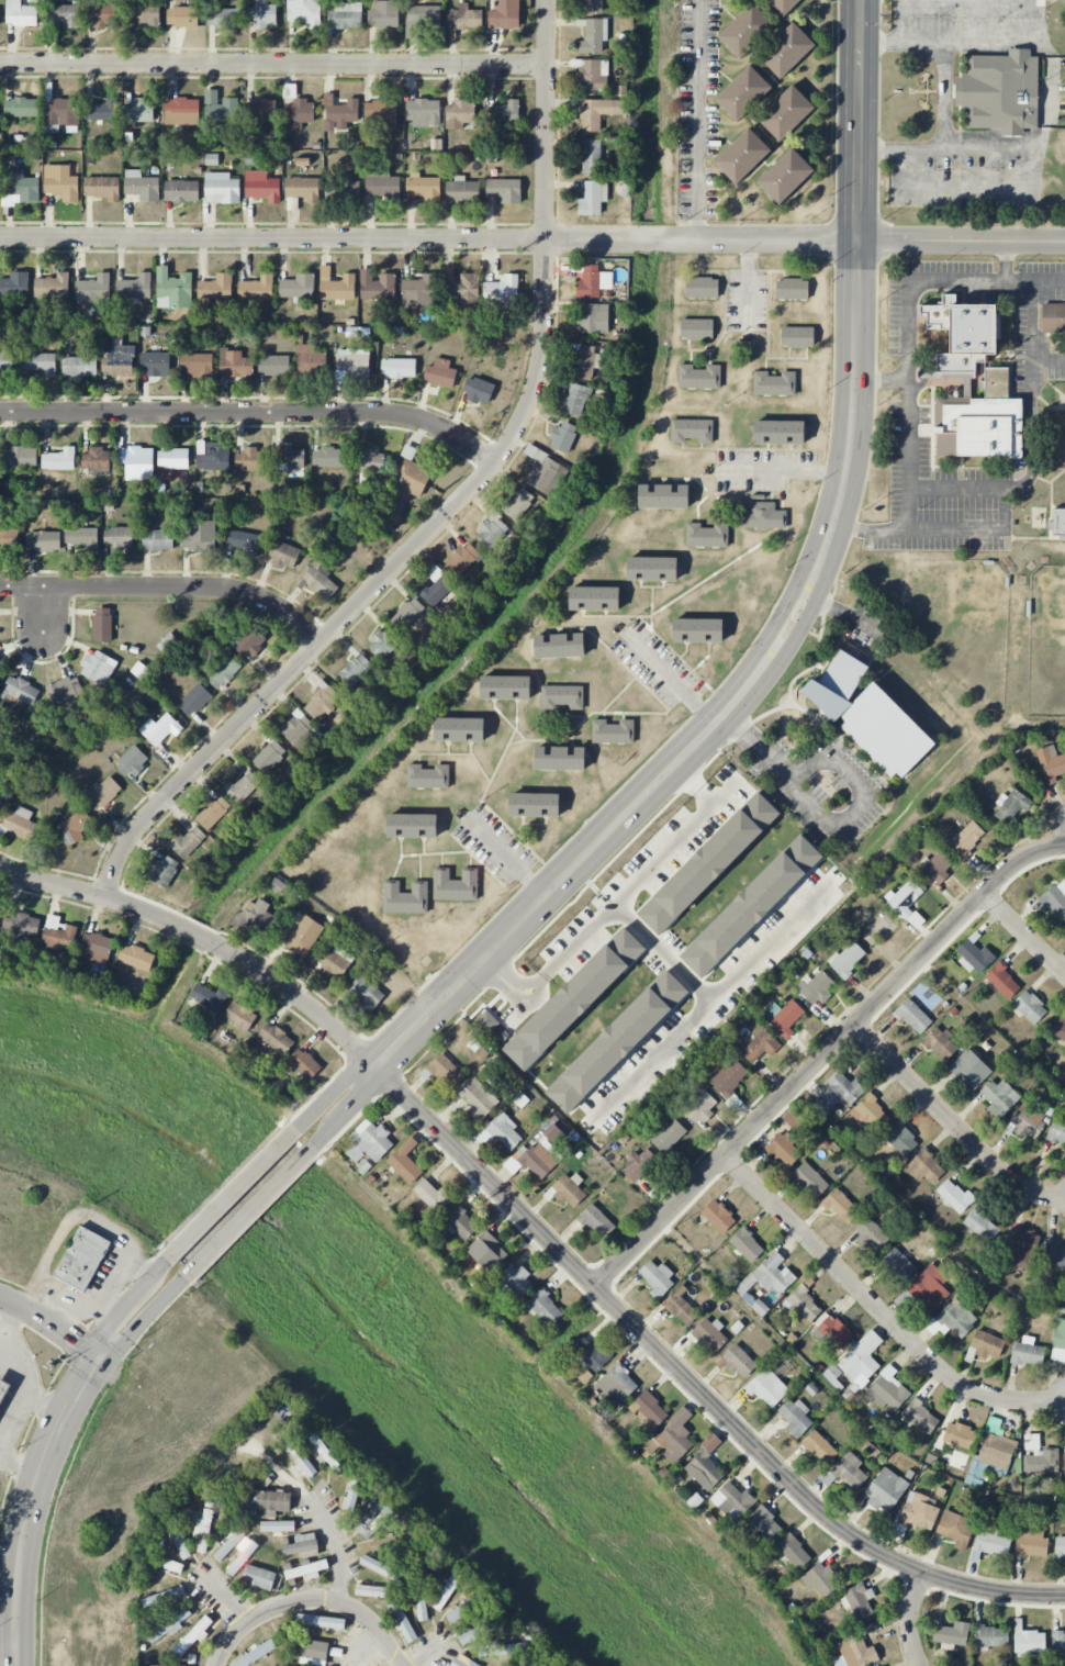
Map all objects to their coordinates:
building: (592, 5)
building: (783, 5)
building: (304, 12)
building: (21, 14)
building: (64, 14)
building: (143, 14)
building: (262, 14)
building: (383, 14)
building: (504, 14)
building: (102, 15)
building: (346, 15)
building: (182, 16)
building: (223, 18)
building: (463, 19)
building: (422, 20)
building: (746, 31)
building: (594, 36)
building: (787, 51)
road: (272, 64)
building: (1000, 91)
building: (743, 92)
road: (942, 102)
building: (220, 107)
building: (21, 108)
building: (261, 109)
building: (102, 110)
building: (139, 111)
building: (181, 111)
building: (300, 112)
building: (423, 112)
building: (504, 112)
building: (786, 112)
building: (60, 113)
building: (339, 113)
building: (380, 113)
building: (597, 113)
building: (460, 114)
road: (699, 120)
building: (742, 155)
building: (591, 157)
building: (785, 175)
building: (60, 182)
building: (381, 183)
building: (142, 186)
building: (261, 186)
building: (422, 187)
building: (19, 188)
building: (102, 188)
building: (347, 188)
building: (222, 189)
building: (303, 189)
building: (504, 190)
building: (181, 191)
building: (461, 191)
building: (593, 199)
road: (531, 239)
road: (1006, 261)
road: (923, 280)
building: (593, 282)
building: (14, 286)
building: (377, 286)
building: (53, 287)
building: (216, 287)
building: (298, 287)
building: (702, 287)
building: (134, 288)
building: (338, 288)
building: (792, 288)
building: (173, 289)
building: (257, 289)
building: (417, 292)
building: (466, 292)
building: (93, 293)
building: (501, 294)
building: (1053, 317)
building: (594, 318)
building: (697, 328)
building: (963, 333)
building: (798, 336)
building: (310, 359)
building: (119, 360)
building: (586, 361)
road: (1047, 361)
building: (5, 362)
building: (354, 362)
building: (41, 364)
building: (156, 364)
building: (235, 364)
building: (197, 365)
building: (273, 365)
building: (79, 366)
building: (397, 368)
building: (440, 373)
building: (699, 376)
building: (775, 382)
building: (478, 390)
building: (575, 400)
road: (254, 413)
building: (980, 422)
building: (692, 431)
building: (780, 432)
building: (563, 436)
building: (20, 456)
building: (213, 456)
building: (173, 457)
building: (329, 457)
building: (59, 459)
building: (97, 460)
building: (249, 460)
building: (372, 461)
building: (137, 463)
road: (784, 470)
building: (545, 472)
building: (411, 477)
road: (959, 490)
building: (663, 496)
building: (518, 503)
road: (457, 505)
building: (763, 514)
road: (1002, 529)
building: (492, 532)
building: (200, 533)
road: (872, 533)
building: (707, 535)
building: (81, 536)
building: (119, 537)
building: (8, 538)
building: (158, 539)
building: (43, 540)
building: (245, 543)
building: (282, 555)
building: (462, 560)
building: (651, 569)
building: (318, 582)
building: (436, 585)
road: (168, 588)
building: (594, 597)
park: (988, 611)
road: (799, 612)
building: (407, 614)
building: (102, 625)
building: (697, 630)
building: (248, 642)
building: (382, 645)
building: (559, 646)
building: (97, 668)
building: (355, 670)
building: (1, 672)
building: (224, 672)
road: (672, 680)
building: (505, 687)
building: (66, 690)
building: (20, 692)
building: (562, 696)
building: (194, 700)
building: (321, 702)
building: (868, 716)
building: (160, 729)
building: (300, 729)
building: (459, 729)
building: (613, 731)
building: (269, 757)
building: (559, 757)
building: (133, 761)
building: (1051, 763)
building: (427, 776)
building: (242, 787)
building: (0, 790)
building: (103, 793)
building: (1, 804)
building: (534, 804)
building: (1011, 808)
building: (213, 812)
road: (825, 817)
building: (20, 823)
building: (412, 825)
building: (75, 827)
building: (967, 838)
building: (187, 842)
road: (505, 858)
building: (708, 864)
building: (165, 870)
building: (935, 870)
road: (635, 883)
building: (455, 884)
road: (53, 885)
building: (405, 897)
building: (905, 897)
building: (1056, 899)
building: (751, 906)
building: (258, 916)
building: (22, 926)
road: (1022, 932)
building: (58, 933)
building: (302, 936)
building: (97, 948)
building: (136, 957)
building: (848, 959)
building: (333, 963)
road: (253, 966)
road: (487, 966)
road: (726, 979)
building: (1002, 981)
road: (511, 982)
building: (816, 987)
road: (504, 988)
building: (366, 992)
building: (209, 997)
building: (575, 999)
road: (516, 1005)
building: (1030, 1007)
building: (239, 1016)
building: (913, 1016)
building: (487, 1021)
building: (1058, 1031)
building: (276, 1038)
building: (617, 1040)
building: (940, 1044)
building: (760, 1047)
road: (658, 1048)
road: (823, 1055)
building: (304, 1063)
building: (969, 1070)
building: (442, 1071)
building: (729, 1076)
road: (334, 1092)
building: (839, 1093)
building: (999, 1097)
building: (478, 1099)
building: (520, 1099)
building: (699, 1107)
road: (349, 1109)
building: (870, 1114)
building: (793, 1118)
building: (1028, 1120)
road: (953, 1122)
building: (1057, 1130)
building: (504, 1131)
building: (552, 1132)
building: (669, 1136)
building: (900, 1139)
building: (369, 1141)
building: (784, 1149)
building: (536, 1159)
building: (405, 1162)
building: (639, 1165)
building: (926, 1167)
building: (810, 1179)
building: (568, 1189)
road: (233, 1195)
building: (433, 1195)
building: (954, 1195)
building: (841, 1206)
road: (249, 1211)
building: (718, 1216)
building: (597, 1221)
building: (459, 1222)
building: (982, 1226)
building: (871, 1234)
building: (747, 1244)
building: (1022, 1245)
building: (487, 1252)
building: (1055, 1255)
building: (82, 1259)
building: (898, 1265)
road: (113, 1270)
building: (769, 1275)
building: (657, 1277)
building: (516, 1281)
building: (929, 1287)
road: (65, 1299)
building: (803, 1304)
road: (124, 1305)
road: (102, 1306)
building: (681, 1306)
building: (546, 1307)
road: (878, 1310)
road: (9, 1320)
road: (143, 1320)
road: (52, 1321)
building: (833, 1331)
building: (709, 1334)
building: (1058, 1342)
building: (986, 1344)
building: (592, 1354)
building: (1028, 1354)
traffic signals: (98, 1357)
building: (862, 1358)
building: (737, 1362)
building: (834, 1376)
building: (617, 1384)
road: (692, 1384)
building: (767, 1388)
building: (4, 1389)
road: (22, 1389)
building: (886, 1391)
building: (650, 1408)
building: (795, 1417)
building: (921, 1417)
building: (959, 1434)
building: (673, 1438)
building: (317, 1442)
road: (3, 1443)
building: (819, 1446)
building: (996, 1451)
building: (299, 1455)
building: (1042, 1462)
building: (1064, 1465)
building: (705, 1471)
building: (850, 1471)
building: (977, 1472)
building: (354, 1489)
building: (885, 1490)
building: (265, 1500)
building: (732, 1501)
road: (32, 1505)
building: (919, 1511)
building: (373, 1519)
building: (764, 1523)
building: (277, 1527)
building: (955, 1529)
building: (202, 1531)
building: (178, 1541)
building: (1032, 1542)
building: (991, 1543)
building: (228, 1545)
building: (303, 1546)
building: (1060, 1546)
road: (339, 1547)
building: (792, 1552)
building: (243, 1555)
building: (166, 1563)
building: (381, 1568)
building: (306, 1569)
building: (261, 1577)
building: (821, 1579)
building: (373, 1591)
building: (446, 1591)
building: (172, 1594)
building: (419, 1599)
road: (227, 1600)
road: (309, 1600)
building: (857, 1600)
building: (464, 1609)
road: (909, 1619)
building: (319, 1621)
building: (402, 1621)
building: (168, 1624)
building: (477, 1633)
building: (951, 1635)
building: (193, 1636)
building: (991, 1636)
building: (1058, 1643)
building: (503, 1650)
road: (8, 1651)
building: (855, 1652)
building: (314, 1653)
building: (256, 1654)
building: (463, 1662)
building: (534, 1664)
building: (159, 1665)

